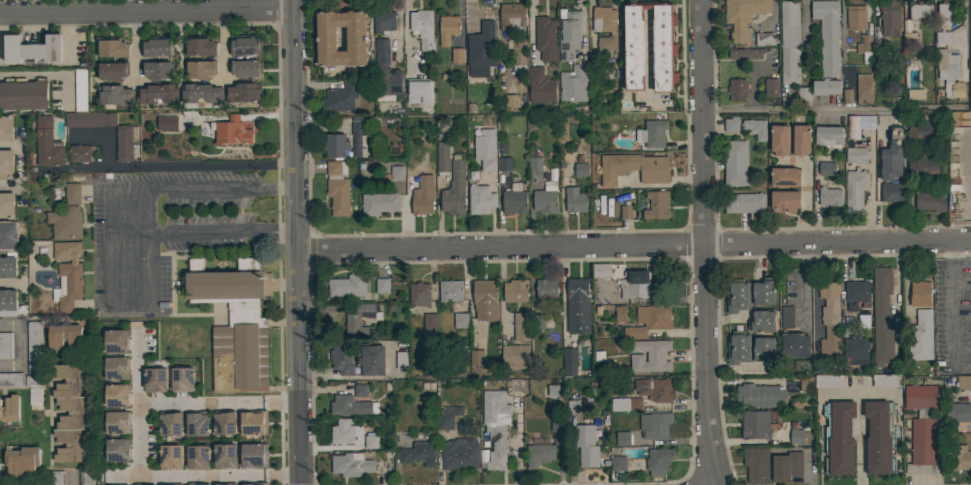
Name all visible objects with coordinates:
road: (147, 11)
building: (919, 11)
building: (944, 13)
building: (512, 16)
building: (743, 17)
building: (857, 18)
building: (889, 18)
building: (383, 20)
building: (420, 20)
building: (448, 28)
road: (583, 28)
building: (605, 28)
road: (405, 32)
building: (568, 34)
building: (828, 35)
building: (909, 36)
building: (942, 37)
building: (355, 38)
building: (545, 38)
building: (764, 39)
road: (500, 40)
building: (789, 42)
building: (245, 45)
building: (111, 47)
building: (156, 47)
building: (200, 47)
building: (483, 47)
building: (424, 48)
building: (632, 48)
building: (865, 48)
building: (33, 50)
building: (744, 53)
building: (518, 55)
building: (456, 56)
road: (778, 65)
building: (246, 68)
building: (201, 69)
building: (112, 70)
building: (157, 70)
building: (386, 70)
building: (949, 73)
road: (34, 76)
building: (573, 84)
building: (540, 86)
building: (826, 86)
building: (772, 87)
building: (737, 89)
building: (863, 89)
building: (81, 90)
building: (243, 92)
building: (200, 93)
building: (414, 93)
building: (23, 94)
building: (114, 94)
building: (157, 94)
building: (915, 94)
building: (803, 95)
building: (847, 95)
building: (341, 97)
building: (511, 100)
road: (831, 110)
building: (90, 119)
building: (167, 123)
building: (731, 124)
building: (859, 125)
building: (6, 127)
building: (756, 128)
building: (922, 131)
building: (230, 132)
building: (652, 133)
building: (828, 135)
building: (357, 136)
building: (800, 139)
building: (780, 140)
building: (48, 143)
building: (124, 143)
building: (336, 145)
building: (485, 149)
building: (79, 153)
building: (893, 154)
building: (857, 155)
building: (442, 157)
building: (534, 161)
building: (735, 162)
building: (6, 164)
building: (504, 164)
building: (921, 164)
road: (18, 165)
road: (171, 166)
building: (580, 167)
building: (633, 168)
building: (827, 168)
building: (395, 174)
building: (417, 174)
building: (59, 177)
building: (785, 177)
building: (338, 188)
building: (454, 190)
building: (855, 190)
road: (871, 191)
building: (892, 192)
building: (72, 193)
building: (830, 196)
building: (480, 199)
building: (515, 199)
building: (546, 199)
building: (575, 200)
building: (784, 200)
building: (929, 201)
building: (745, 202)
building: (379, 203)
building: (7, 205)
building: (421, 205)
building: (657, 205)
road: (144, 209)
building: (626, 211)
building: (65, 222)
road: (298, 242)
road: (701, 243)
road: (634, 245)
building: (8, 266)
building: (601, 270)
building: (67, 275)
road: (905, 282)
road: (9, 284)
building: (635, 284)
building: (795, 284)
road: (895, 284)
building: (348, 285)
building: (382, 285)
building: (546, 288)
building: (515, 290)
building: (450, 291)
building: (763, 291)
road: (501, 292)
building: (855, 293)
building: (920, 293)
building: (419, 294)
building: (737, 295)
road: (815, 295)
building: (485, 299)
building: (7, 303)
road: (950, 305)
building: (578, 306)
building: (620, 313)
building: (882, 315)
building: (786, 317)
building: (829, 318)
building: (460, 320)
building: (649, 320)
building: (864, 320)
building: (537, 321)
building: (761, 321)
building: (353, 322)
building: (430, 322)
building: (231, 326)
building: (521, 326)
building: (920, 336)
building: (65, 338)
building: (111, 342)
building: (5, 345)
building: (795, 345)
road: (20, 347)
building: (33, 347)
building: (738, 348)
building: (763, 350)
building: (855, 351)
building: (650, 356)
building: (476, 357)
building: (515, 357)
building: (598, 357)
building: (341, 358)
building: (371, 360)
building: (402, 360)
building: (568, 363)
road: (961, 369)
building: (110, 370)
road: (344, 377)
building: (11, 379)
building: (178, 380)
building: (33, 381)
building: (151, 381)
building: (830, 381)
building: (886, 381)
building: (806, 383)
building: (963, 383)
building: (515, 386)
building: (655, 389)
building: (361, 390)
building: (553, 390)
building: (759, 395)
building: (111, 397)
building: (559, 402)
building: (625, 404)
building: (349, 405)
building: (573, 406)
building: (10, 409)
building: (958, 411)
building: (69, 413)
building: (446, 416)
building: (112, 424)
building: (218, 424)
building: (558, 424)
building: (164, 425)
building: (249, 425)
building: (655, 425)
building: (755, 425)
building: (192, 426)
building: (496, 426)
building: (922, 427)
building: (344, 431)
building: (796, 436)
road: (138, 437)
building: (879, 437)
building: (839, 438)
building: (622, 439)
road: (859, 439)
building: (371, 442)
building: (586, 447)
building: (112, 451)
building: (419, 454)
building: (459, 454)
building: (539, 454)
building: (219, 457)
building: (250, 457)
building: (957, 457)
building: (165, 458)
building: (192, 458)
building: (658, 459)
building: (23, 462)
building: (618, 463)
building: (754, 463)
building: (351, 464)
building: (787, 466)
building: (57, 477)
building: (86, 477)
road: (72, 481)
building: (250, 484)

